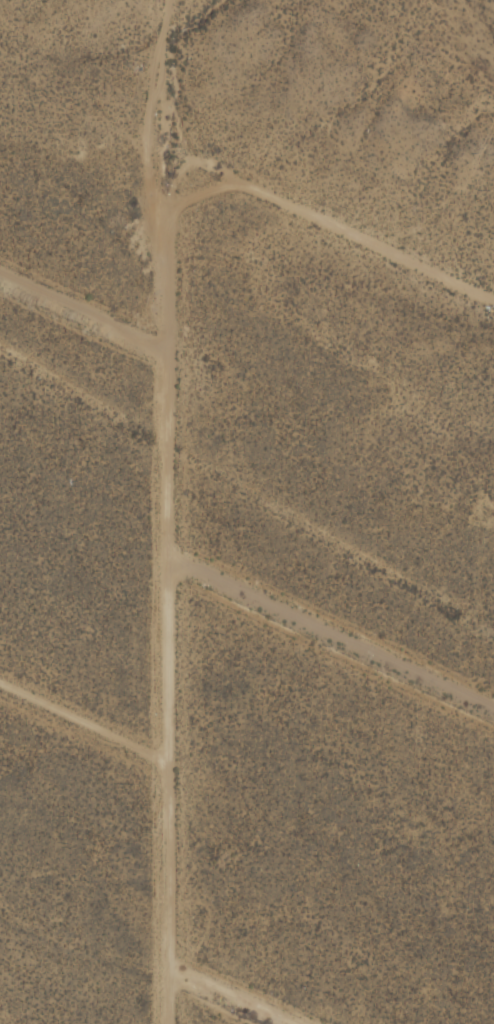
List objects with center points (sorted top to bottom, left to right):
road: (267, 195)
road: (84, 311)
road: (329, 639)
road: (168, 687)
road: (85, 717)
road: (235, 996)

